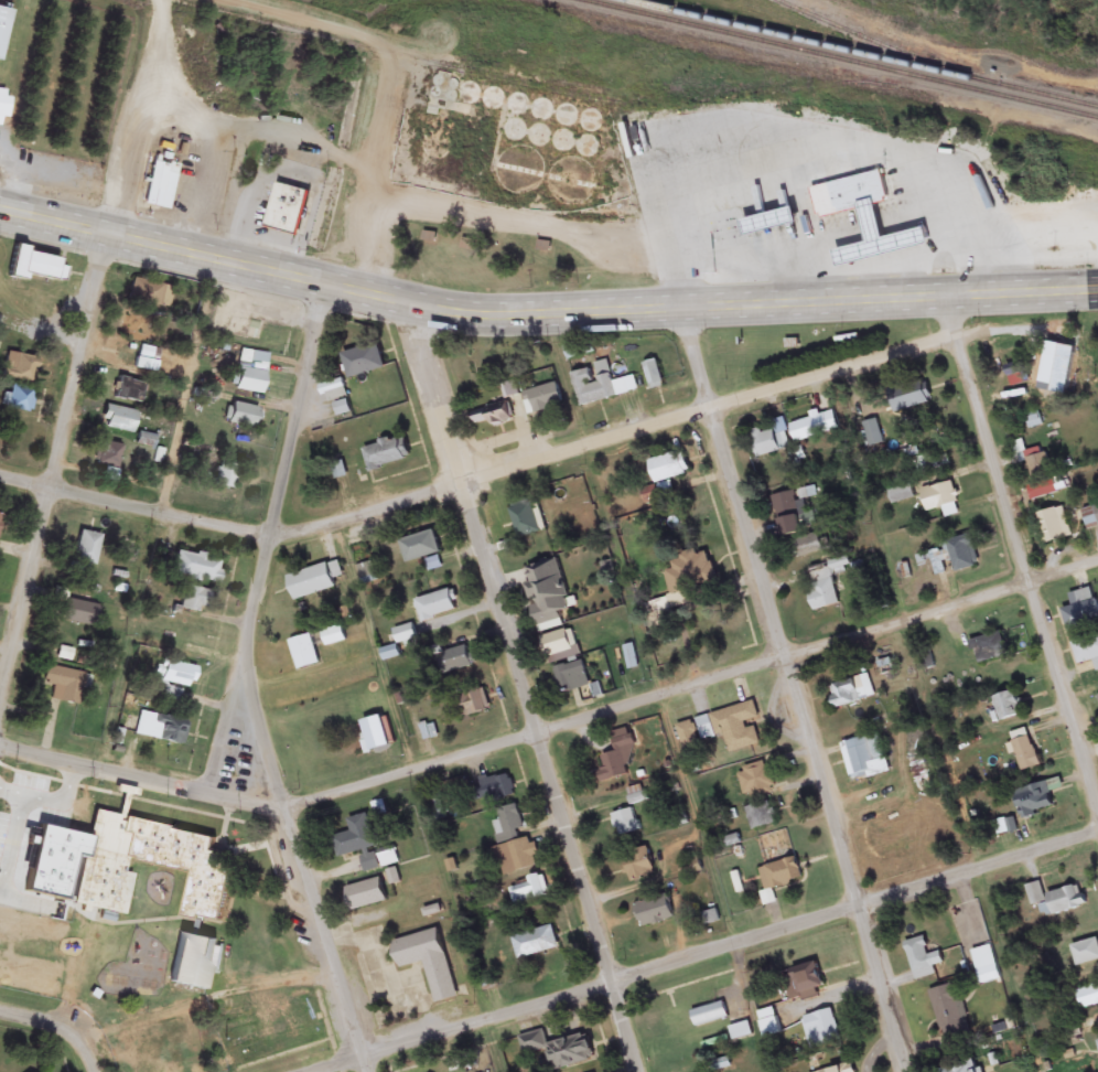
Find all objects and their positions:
building: (4, 24)
railway: (873, 41)
road: (410, 47)
railway: (855, 55)
railway: (837, 60)
building: (472, 95)
silo: (472, 95)
building: (6, 99)
building: (497, 100)
silo: (497, 100)
railway: (699, 105)
building: (521, 107)
silo: (521, 107)
building: (543, 112)
silo: (543, 112)
building: (567, 117)
silo: (567, 117)
building: (592, 122)
silo: (592, 122)
building: (515, 130)
silo: (515, 130)
building: (539, 137)
silo: (539, 137)
building: (562, 141)
silo: (562, 141)
building: (589, 148)
silo: (589, 148)
building: (457, 160)
building: (521, 173)
silo: (521, 173)
building: (575, 184)
silo: (575, 184)
building: (157, 186)
building: (857, 192)
building: (952, 203)
building: (287, 210)
building: (864, 253)
building: (35, 267)
building: (144, 292)
road: (543, 314)
building: (364, 362)
road: (84, 363)
building: (20, 369)
building: (1013, 371)
building: (251, 375)
building: (654, 375)
building: (600, 385)
building: (129, 390)
building: (332, 390)
building: (19, 399)
building: (542, 399)
building: (243, 416)
building: (491, 417)
building: (119, 420)
building: (1034, 421)
building: (816, 427)
building: (772, 440)
building: (146, 441)
building: (386, 454)
building: (108, 455)
building: (1032, 461)
building: (932, 464)
building: (334, 473)
road: (482, 474)
building: (226, 478)
building: (900, 496)
building: (939, 497)
building: (790, 510)
building: (1090, 518)
building: (525, 519)
building: (1, 523)
building: (1053, 526)
building: (807, 547)
building: (420, 548)
road: (1021, 548)
building: (87, 550)
building: (960, 556)
building: (932, 566)
building: (196, 569)
road: (760, 573)
building: (686, 581)
building: (120, 583)
building: (826, 585)
building: (437, 605)
building: (1081, 613)
building: (78, 614)
building: (546, 617)
building: (333, 637)
building: (558, 644)
building: (989, 650)
building: (1086, 652)
building: (304, 653)
building: (390, 654)
building: (457, 661)
building: (175, 674)
building: (571, 680)
road: (251, 683)
building: (64, 686)
road: (524, 689)
building: (851, 693)
building: (1097, 697)
building: (474, 703)
building: (1008, 707)
building: (732, 728)
road: (232, 729)
building: (161, 730)
road: (552, 731)
building: (1024, 751)
building: (863, 755)
building: (616, 759)
building: (917, 772)
building: (755, 781)
building: (496, 789)
building: (637, 796)
building: (1036, 800)
building: (762, 817)
building: (625, 824)
building: (510, 825)
building: (886, 838)
building: (364, 846)
building: (516, 858)
building: (638, 866)
building: (689, 869)
building: (779, 877)
building: (99, 890)
building: (528, 891)
building: (365, 896)
building: (1057, 899)
building: (654, 913)
building: (711, 919)
building: (535, 943)
road: (712, 953)
building: (1086, 953)
building: (919, 960)
building: (428, 963)
building: (986, 966)
building: (806, 983)
building: (1088, 998)
building: (948, 1010)
building: (709, 1016)
building: (768, 1023)
road: (55, 1029)
building: (820, 1029)
building: (1097, 1042)
building: (559, 1051)
building: (966, 1068)
building: (844, 1070)

